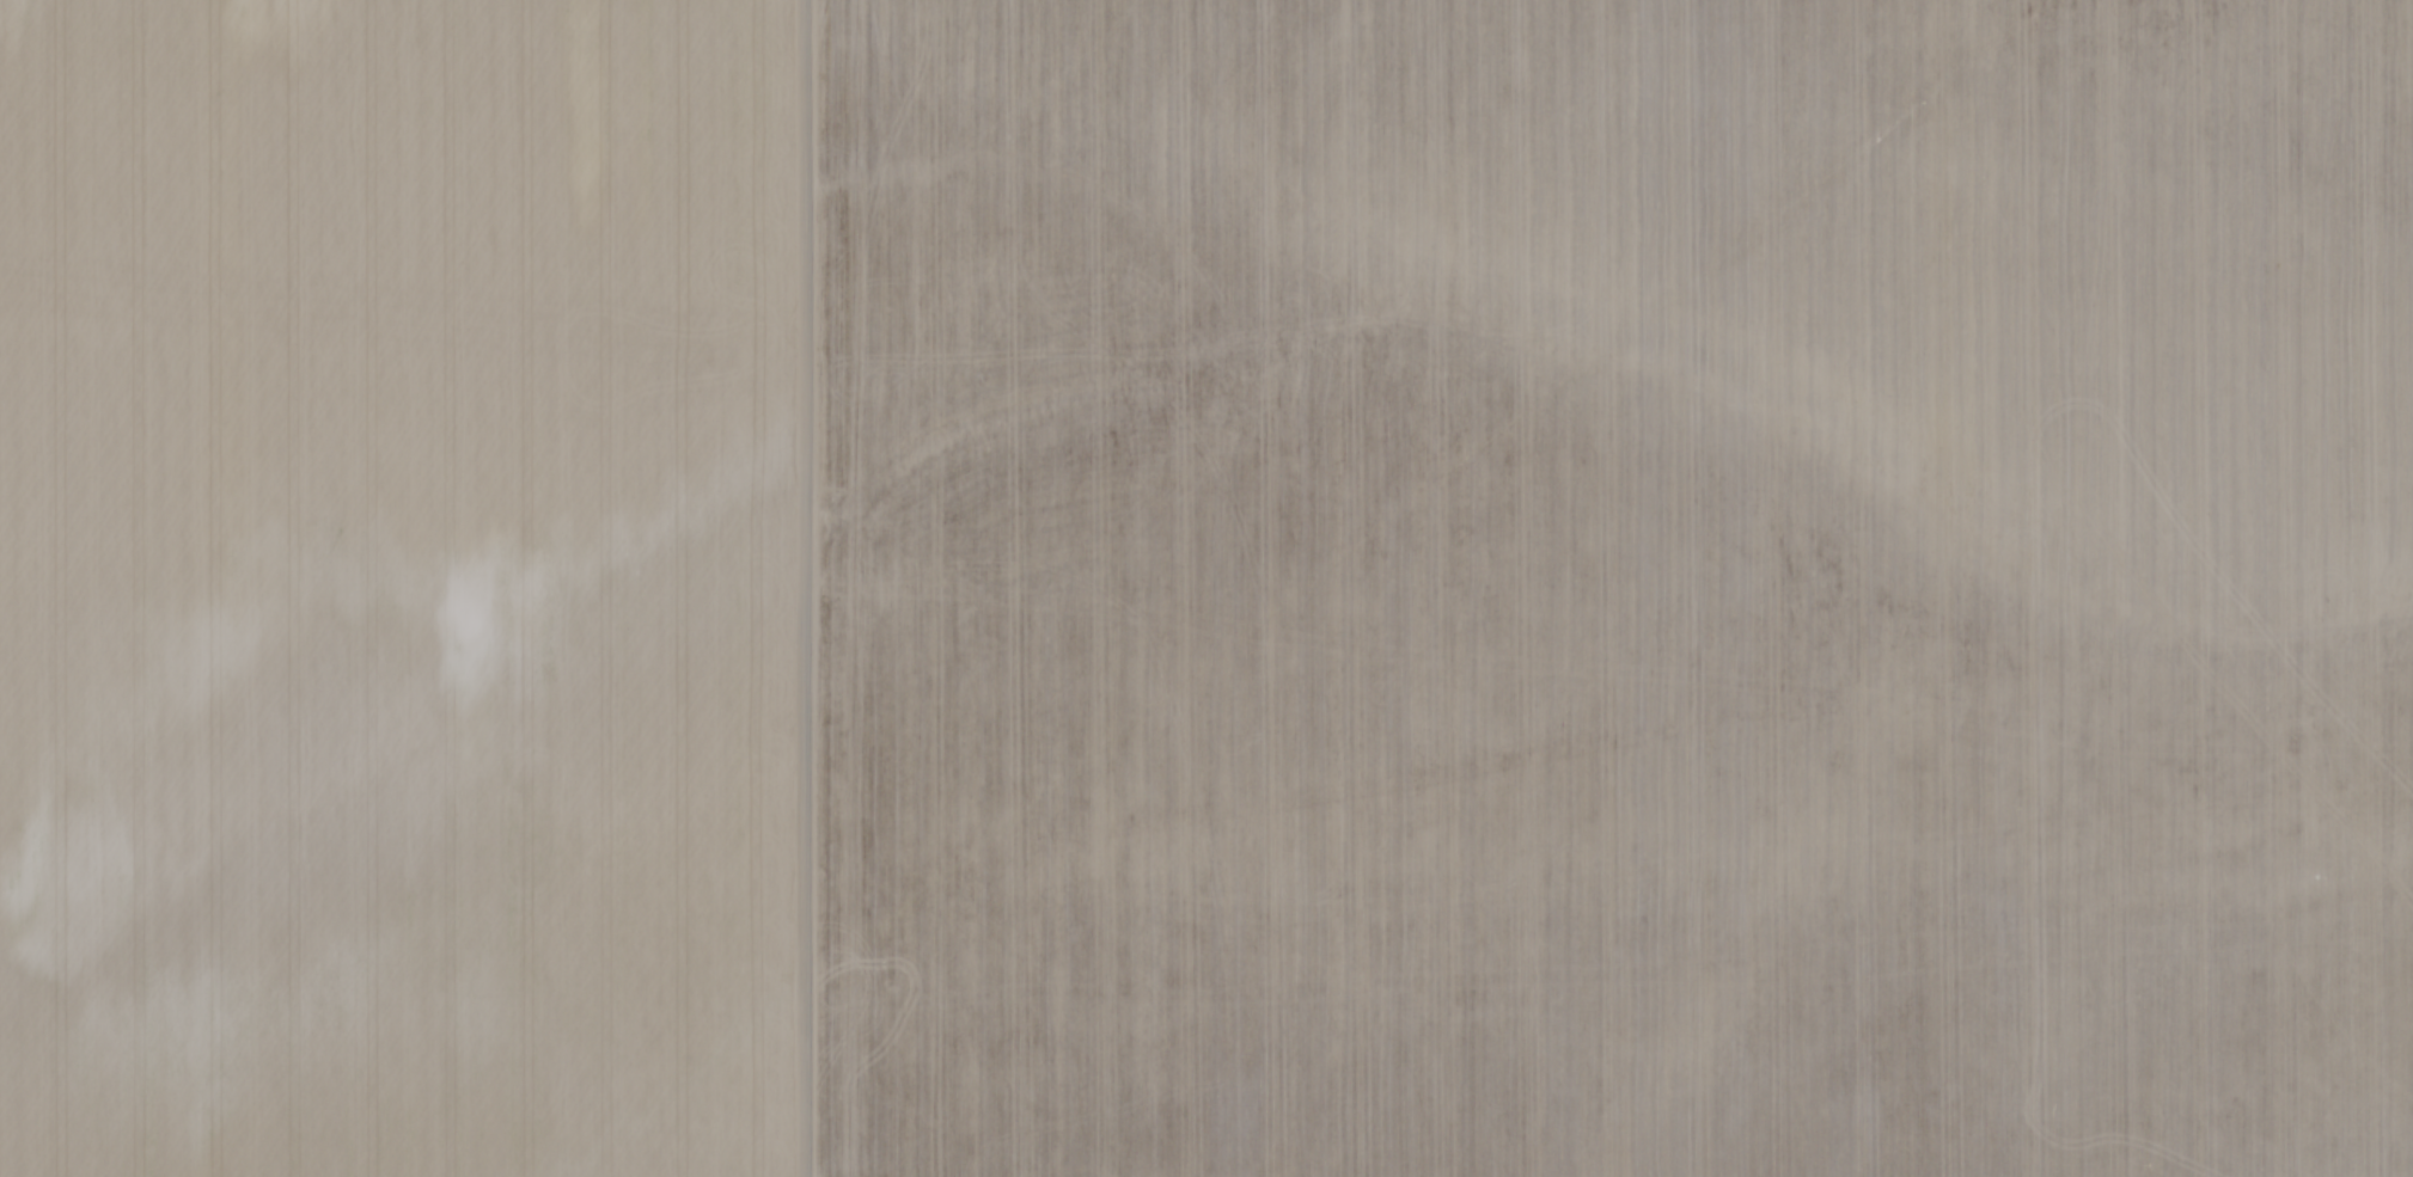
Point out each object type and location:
road: (802, 588)

